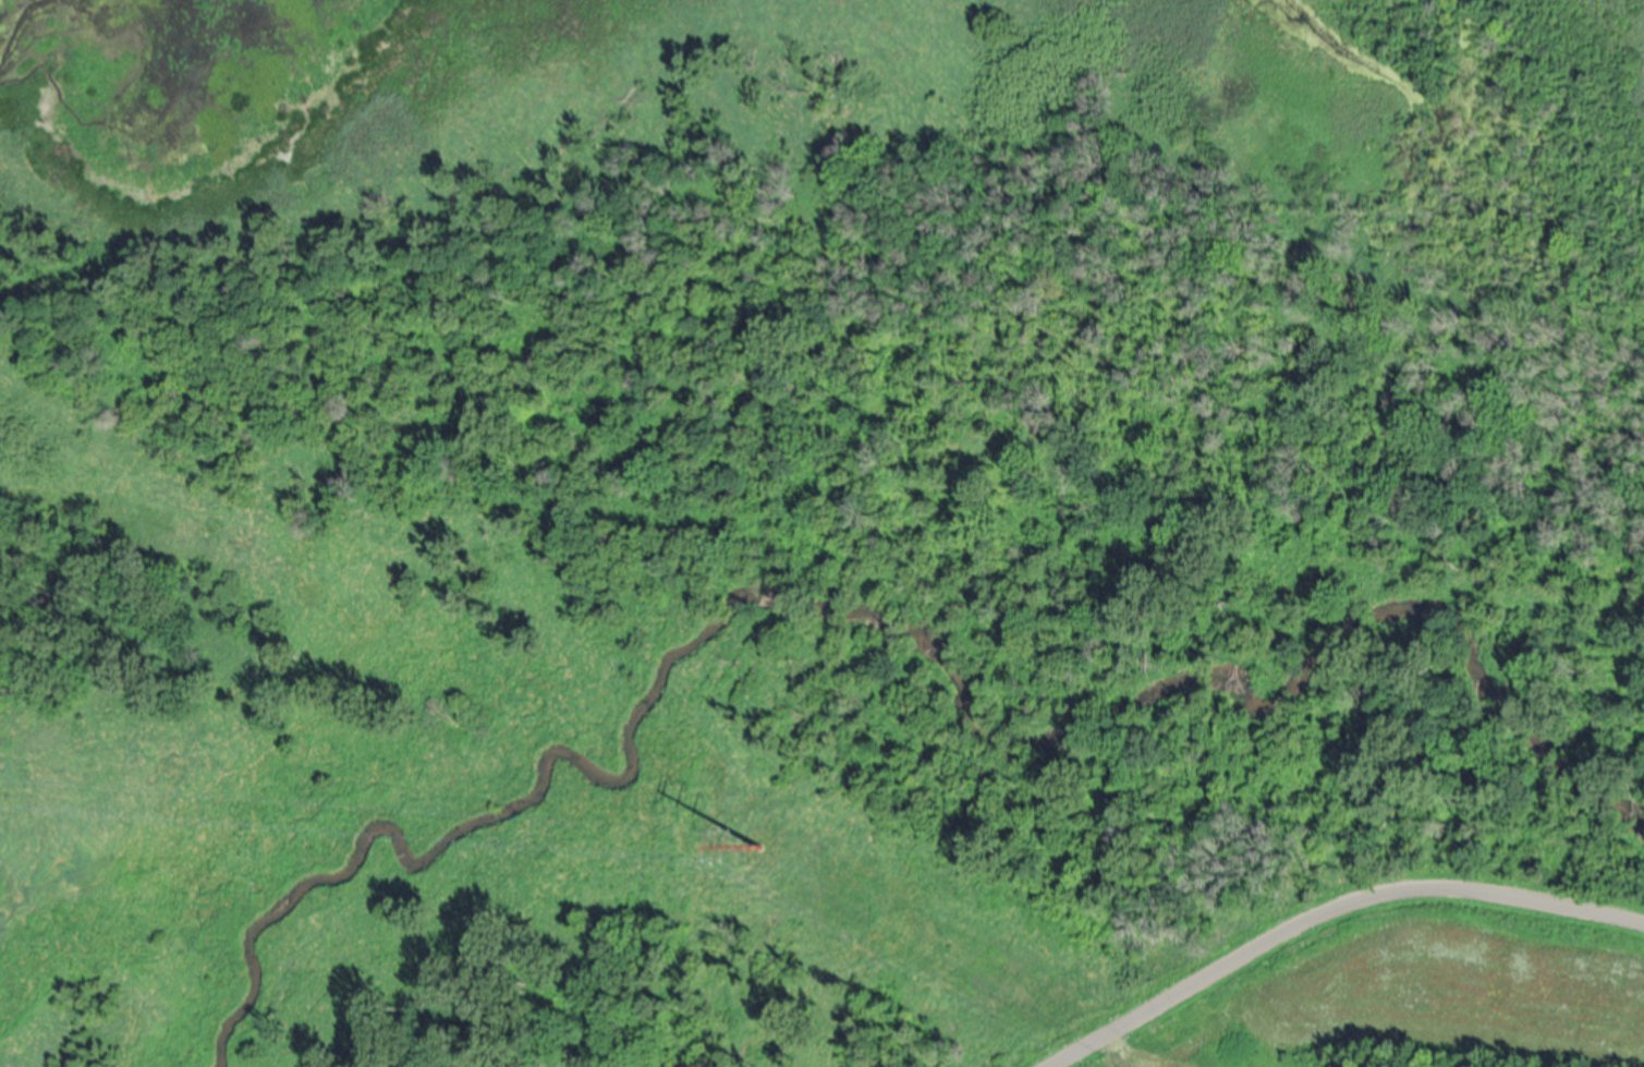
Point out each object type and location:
power tower: (760, 841)
road: (1326, 906)

